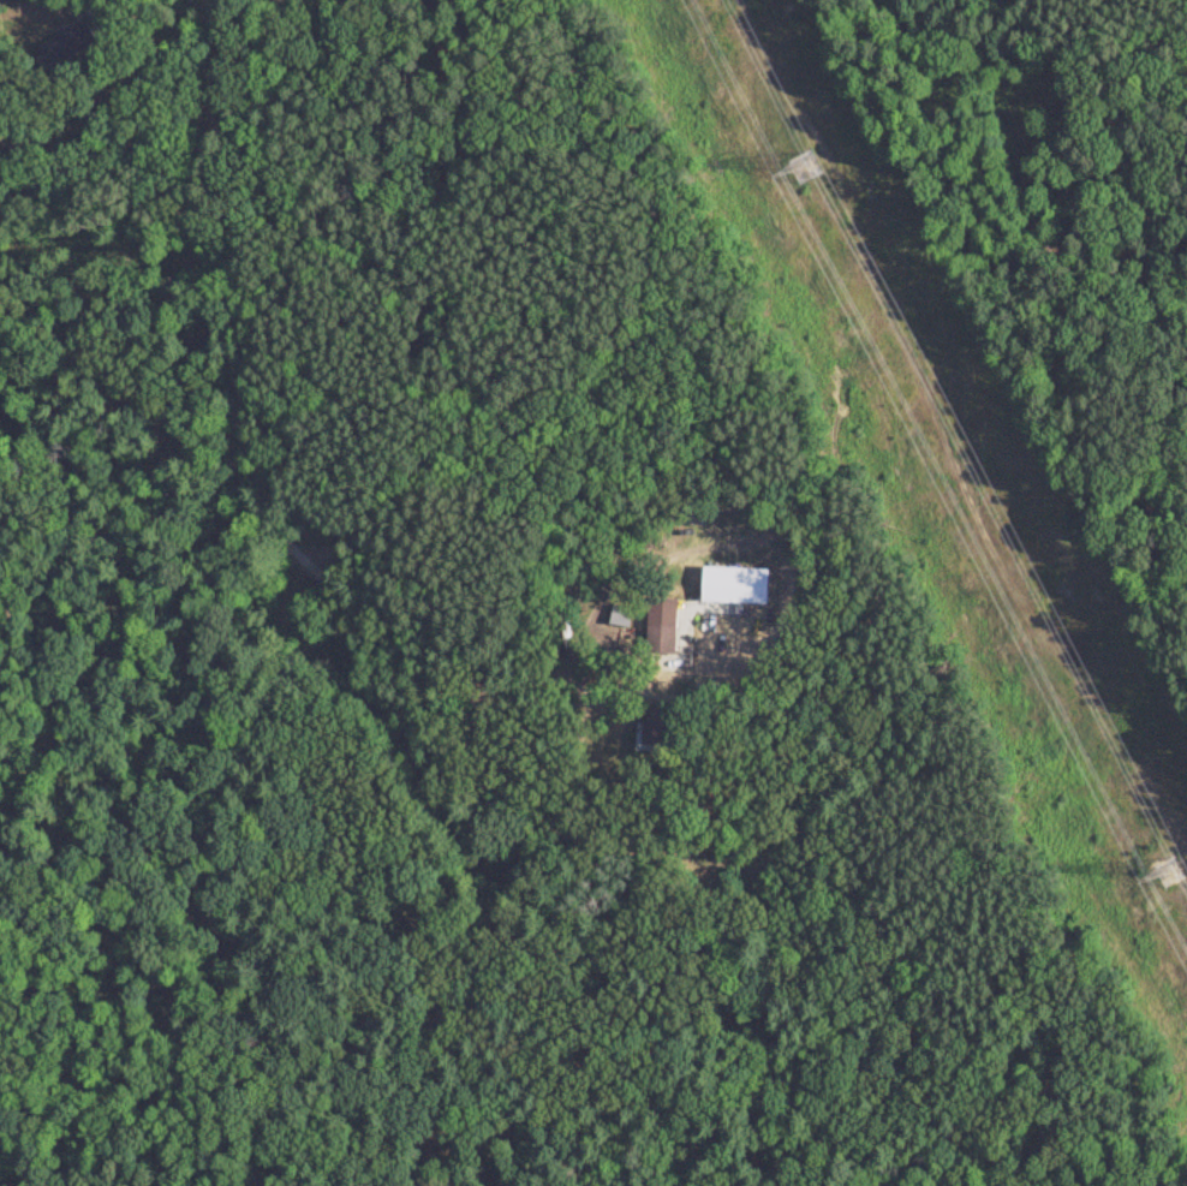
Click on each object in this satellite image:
road: (95, 1)
road: (199, 55)
road: (79, 131)
power tower: (804, 165)
road: (273, 505)
power tower: (1169, 871)

